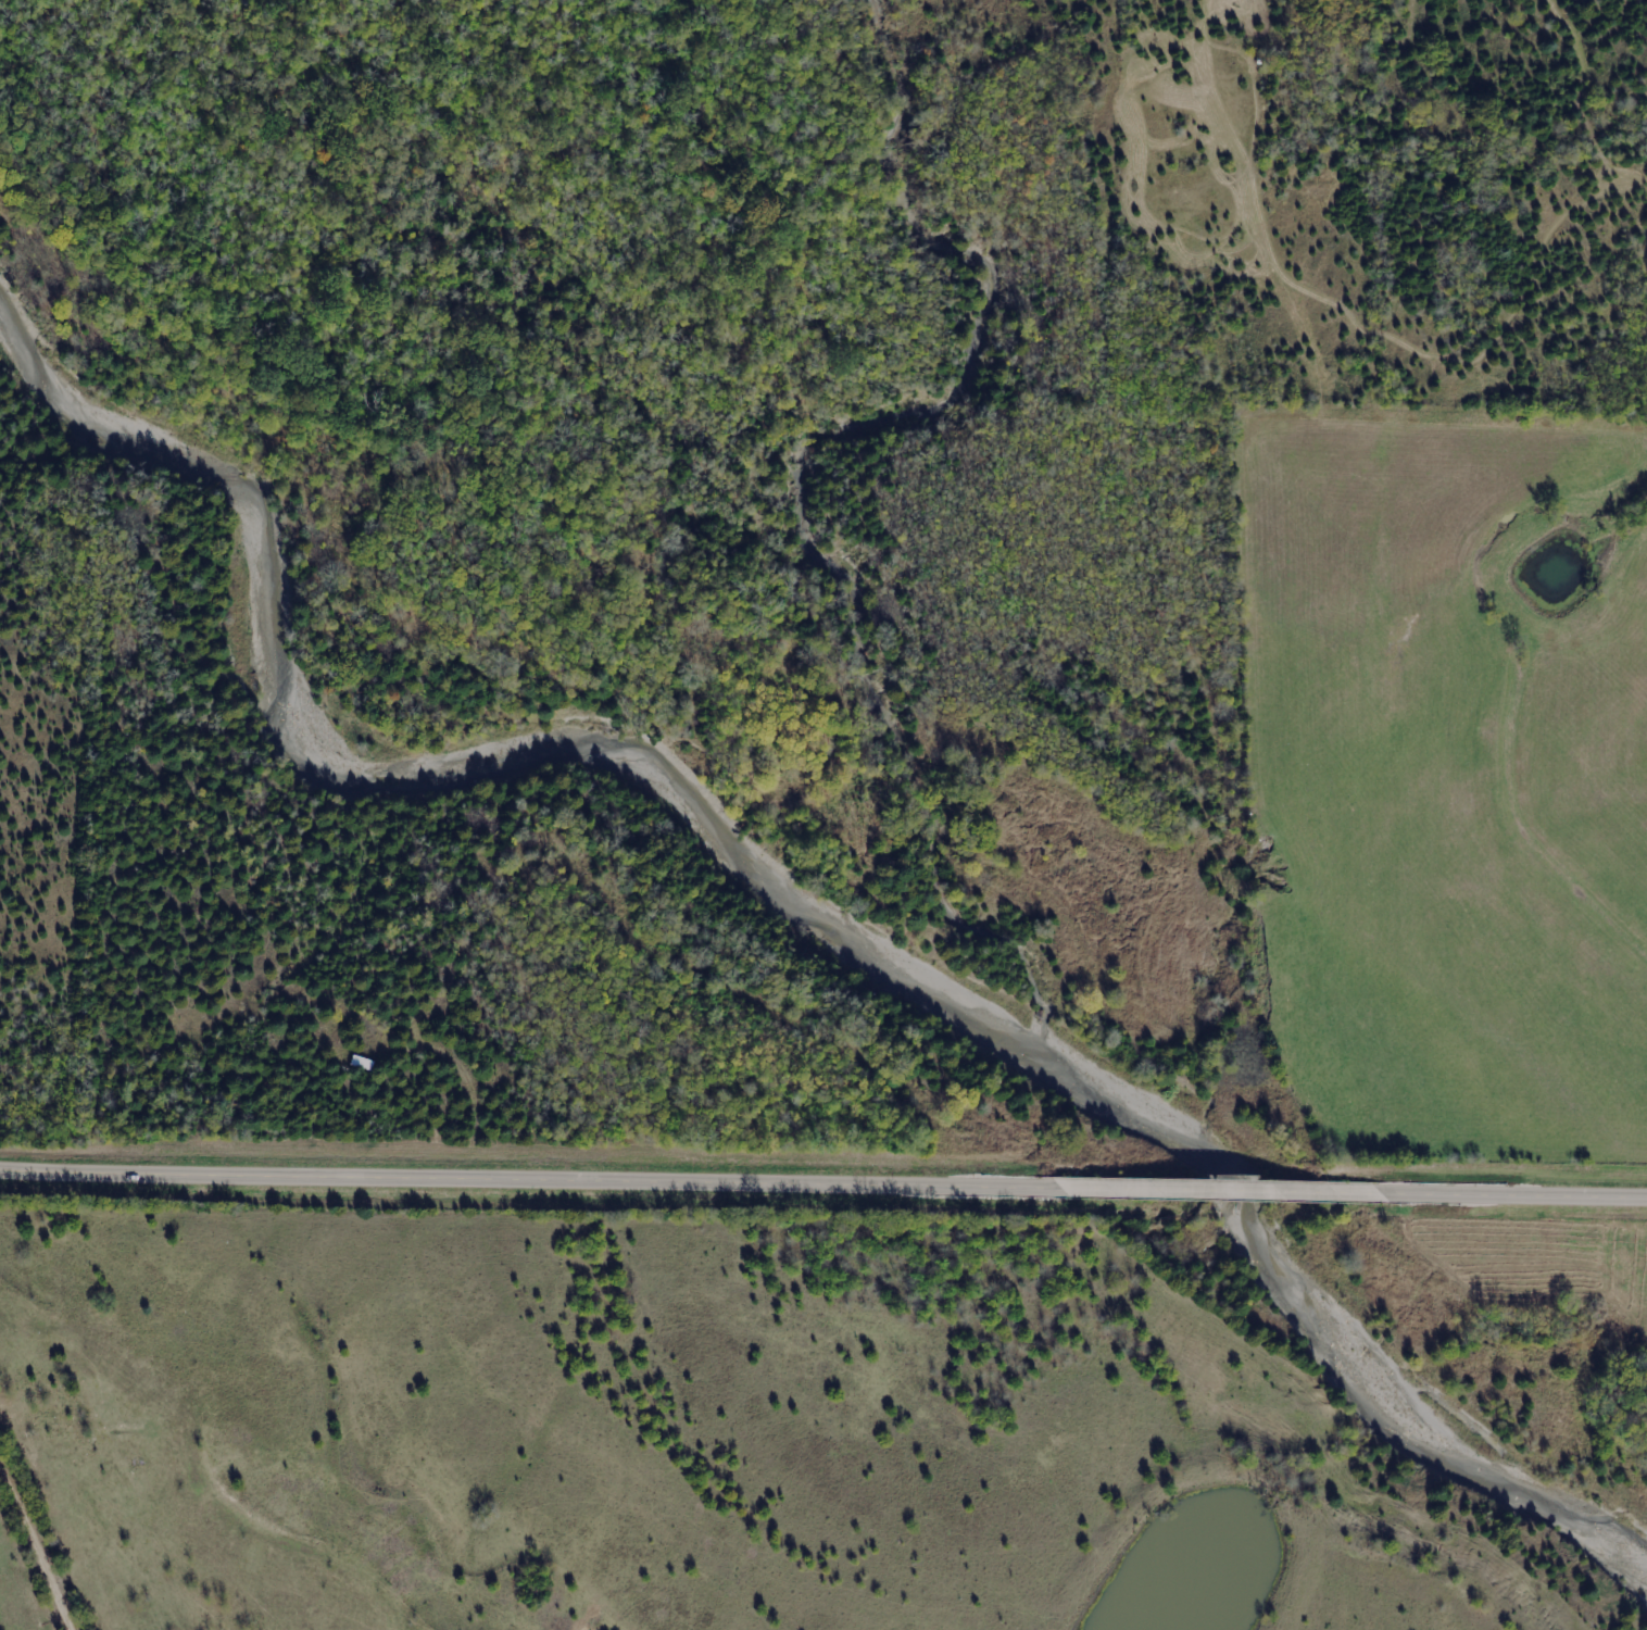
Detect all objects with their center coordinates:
road: (822, 1180)
road: (32, 1550)

